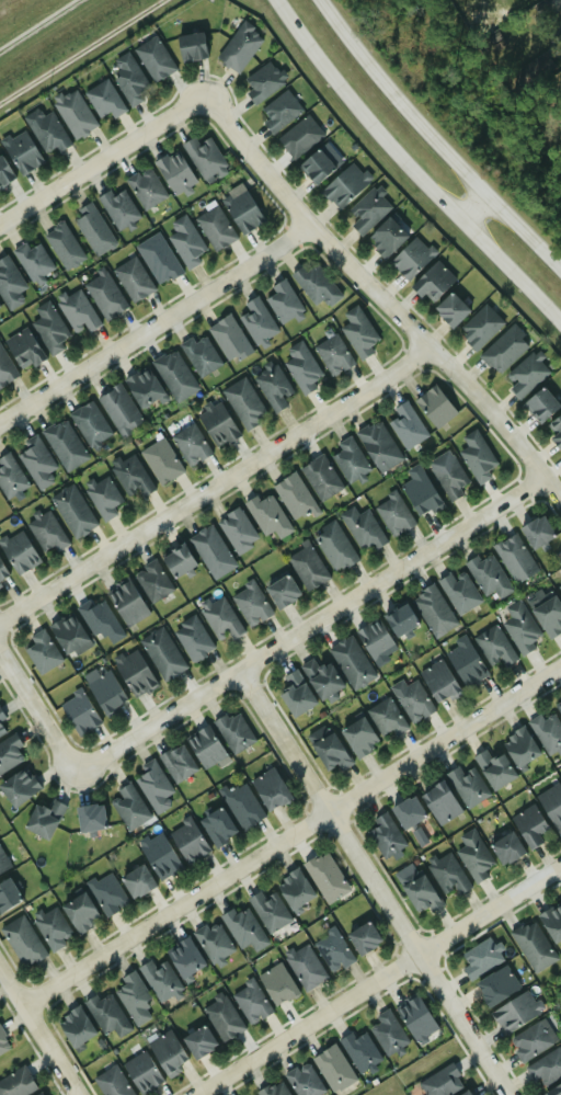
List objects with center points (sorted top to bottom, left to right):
building: (560, 10)
building: (191, 47)
building: (239, 47)
building: (152, 59)
building: (128, 79)
building: (263, 82)
building: (103, 100)
building: (279, 112)
building: (73, 114)
building: (45, 130)
building: (299, 137)
road: (436, 138)
building: (20, 151)
building: (202, 156)
road: (103, 159)
building: (316, 167)
road: (410, 170)
building: (173, 172)
building: (4, 173)
building: (344, 185)
building: (145, 187)
road: (473, 206)
building: (117, 207)
building: (367, 210)
building: (242, 212)
building: (214, 228)
building: (92, 229)
building: (386, 238)
building: (185, 241)
building: (62, 246)
building: (157, 258)
building: (411, 258)
building: (32, 261)
building: (131, 278)
building: (432, 282)
building: (9, 285)
building: (316, 285)
building: (103, 295)
road: (382, 296)
building: (283, 301)
building: (450, 309)
building: (77, 311)
building: (256, 321)
road: (156, 322)
building: (480, 327)
building: (48, 328)
building: (357, 332)
building: (228, 338)
building: (23, 349)
building: (504, 350)
building: (332, 354)
building: (198, 355)
building: (301, 367)
building: (5, 369)
building: (526, 374)
building: (173, 375)
building: (272, 387)
building: (142, 388)
building: (243, 403)
building: (540, 404)
building: (434, 407)
building: (119, 410)
building: (90, 424)
building: (216, 425)
building: (407, 425)
building: (557, 432)
building: (64, 444)
building: (190, 445)
building: (378, 446)
building: (476, 457)
building: (350, 459)
building: (160, 461)
building: (36, 463)
building: (130, 476)
building: (9, 477)
building: (320, 478)
building: (448, 478)
road: (216, 484)
building: (419, 492)
building: (102, 497)
building: (294, 497)
building: (71, 511)
building: (392, 514)
building: (267, 515)
building: (362, 529)
building: (237, 531)
building: (46, 532)
building: (536, 532)
building: (333, 546)
building: (16, 551)
building: (211, 552)
building: (514, 558)
building: (176, 561)
building: (307, 568)
building: (1, 572)
building: (488, 575)
building: (151, 581)
building: (0, 585)
building: (559, 589)
building: (280, 592)
building: (459, 592)
building: (126, 603)
building: (250, 604)
building: (433, 611)
building: (548, 615)
building: (99, 619)
building: (219, 619)
building: (399, 620)
road: (311, 624)
building: (519, 628)
building: (66, 634)
building: (191, 639)
building: (374, 639)
building: (494, 647)
building: (41, 652)
building: (161, 653)
building: (351, 662)
building: (466, 664)
building: (134, 673)
building: (321, 677)
building: (438, 682)
building: (105, 693)
building: (295, 695)
building: (413, 702)
building: (558, 707)
road: (37, 709)
building: (78, 712)
building: (1, 716)
building: (386, 717)
building: (1, 730)
building: (547, 731)
building: (233, 732)
building: (358, 738)
building: (204, 746)
building: (518, 746)
building: (328, 750)
building: (9, 752)
building: (176, 763)
building: (493, 768)
building: (152, 786)
building: (466, 786)
building: (18, 787)
building: (270, 789)
building: (439, 802)
building: (241, 805)
building: (551, 805)
building: (128, 807)
building: (407, 812)
building: (89, 818)
building: (43, 819)
building: (217, 826)
building: (530, 826)
road: (291, 834)
building: (385, 835)
building: (416, 836)
building: (187, 841)
building: (505, 848)
building: (159, 856)
building: (473, 856)
building: (3, 862)
building: (447, 874)
building: (325, 877)
building: (135, 881)
road: (375, 882)
building: (294, 889)
building: (105, 892)
building: (420, 893)
building: (7, 896)
building: (268, 910)
building: (79, 913)
building: (552, 922)
building: (51, 927)
building: (243, 928)
building: (363, 938)
building: (211, 940)
building: (22, 942)
building: (533, 945)
building: (332, 950)
building: (184, 958)
building: (480, 958)
building: (305, 967)
building: (159, 979)
road: (377, 980)
building: (276, 984)
building: (496, 985)
building: (133, 997)
building: (250, 1002)
building: (515, 1012)
building: (106, 1014)
building: (560, 1016)
building: (221, 1017)
building: (414, 1018)
building: (75, 1027)
road: (39, 1030)
building: (387, 1033)
building: (197, 1041)
building: (529, 1041)
building: (3, 1043)
building: (359, 1051)
building: (165, 1052)
building: (546, 1067)
building: (333, 1068)
building: (140, 1071)
building: (304, 1080)
building: (111, 1082)
building: (440, 1082)
building: (16, 1083)
building: (273, 1088)
building: (553, 1091)
building: (463, 1093)
building: (37, 1094)
building: (41, 1094)

